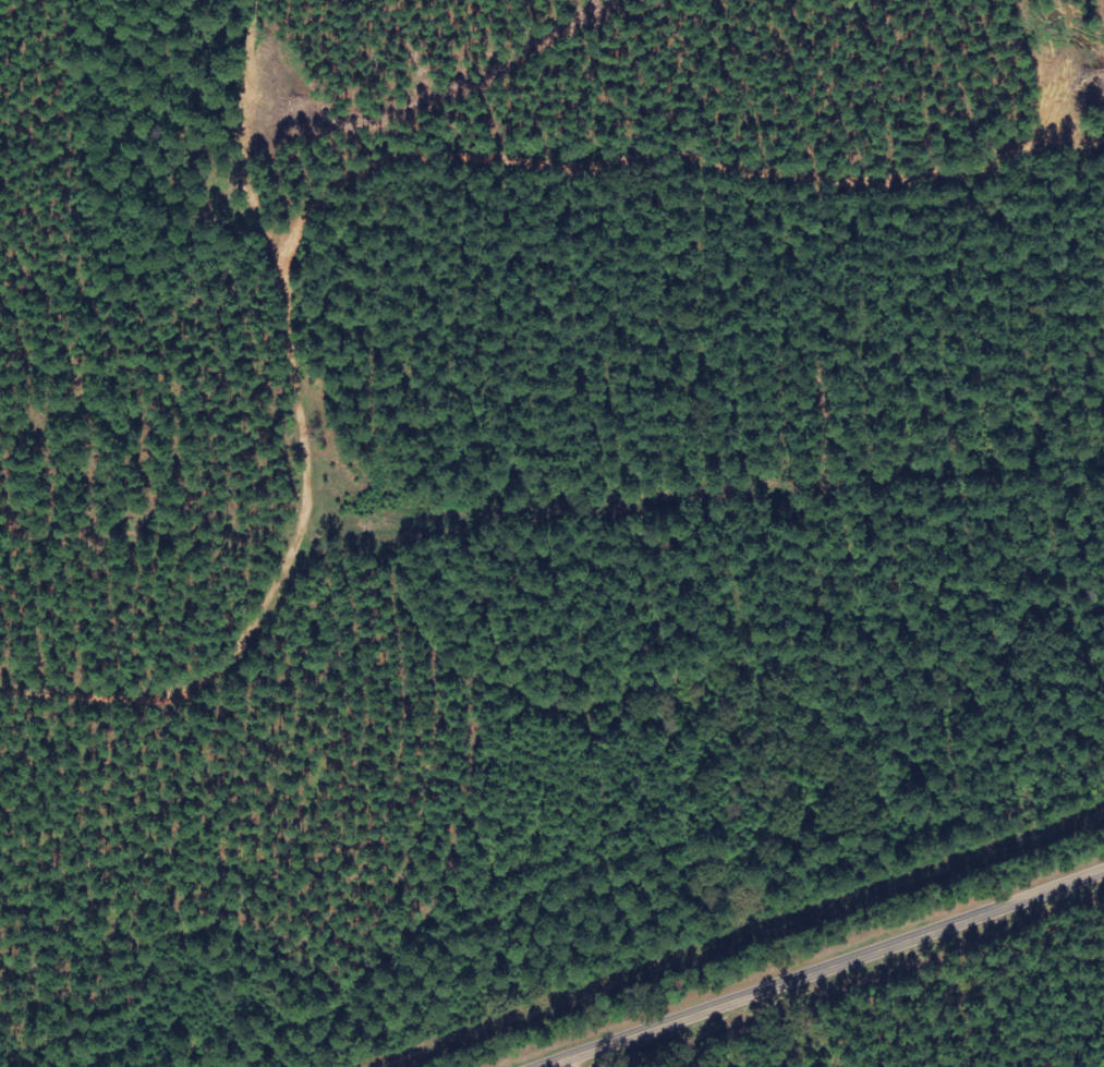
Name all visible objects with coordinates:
road: (827, 970)
road: (570, 1064)

